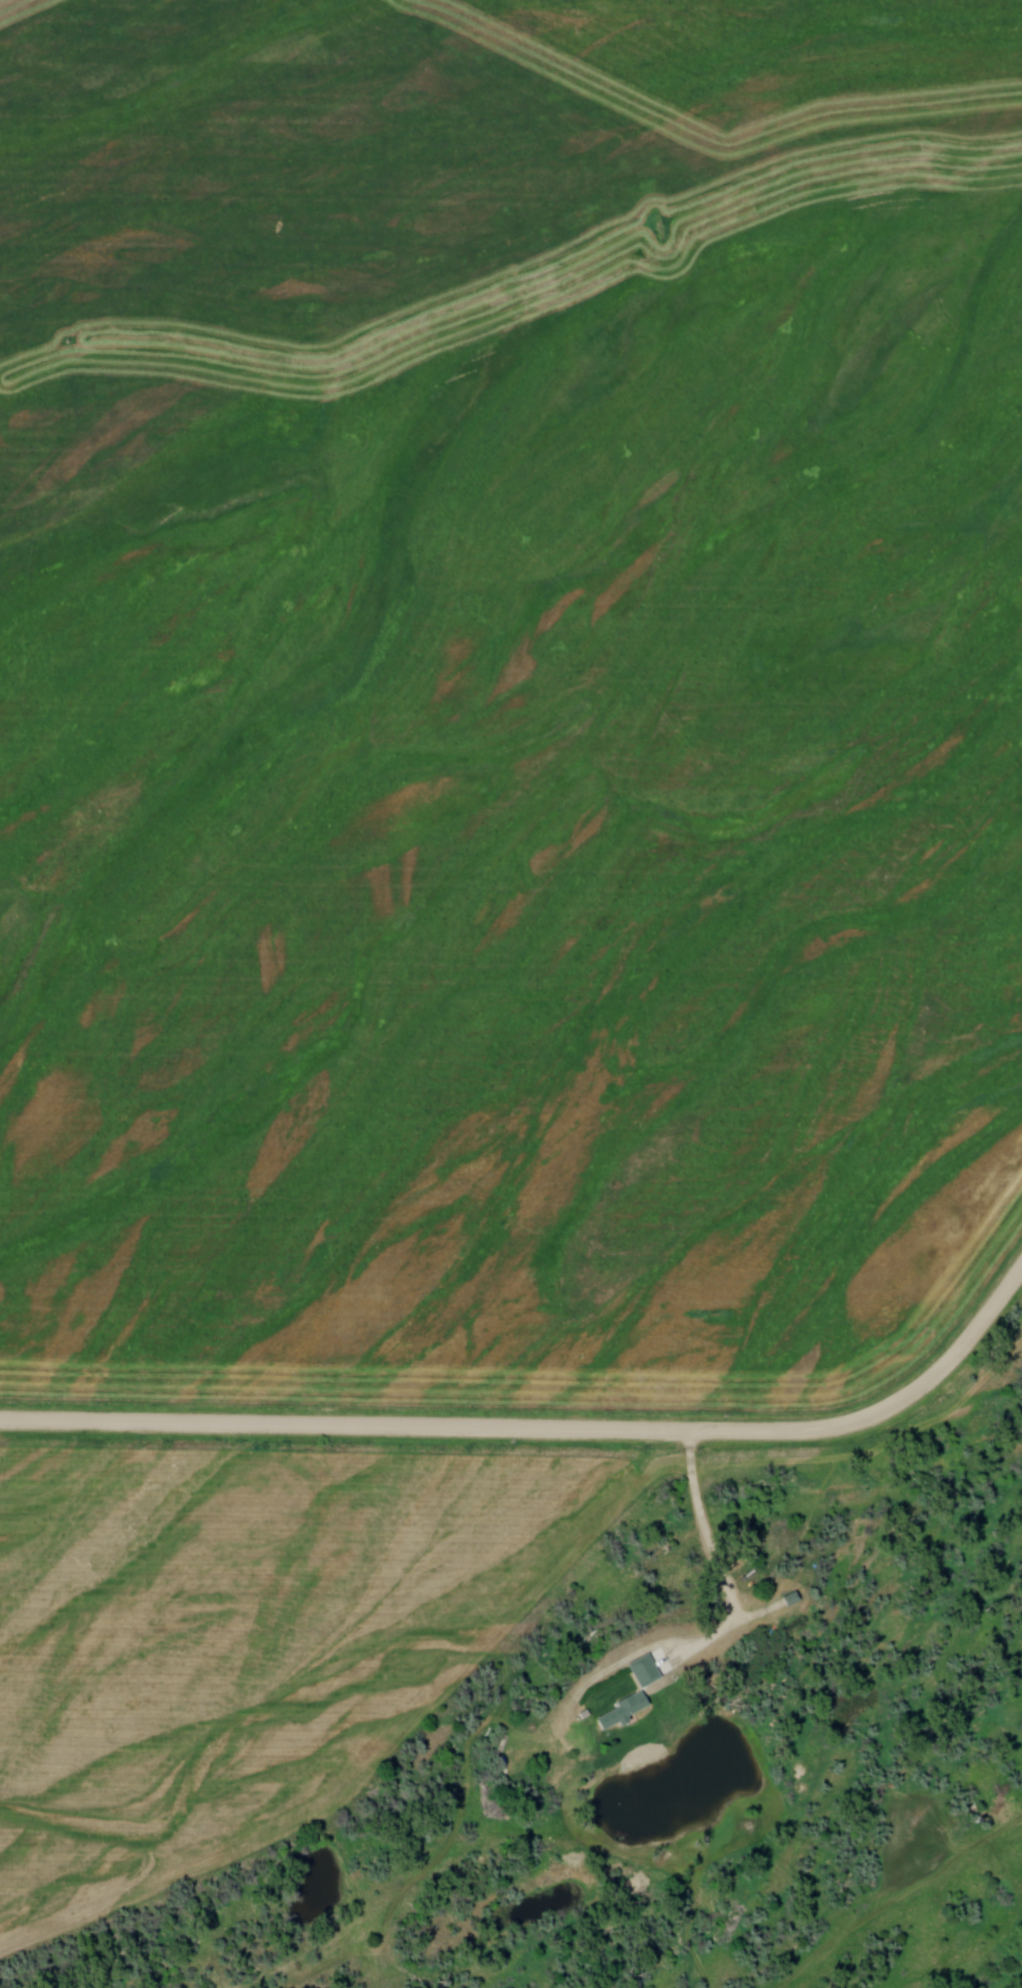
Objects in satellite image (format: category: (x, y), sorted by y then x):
road: (542, 1429)
building: (626, 1711)

